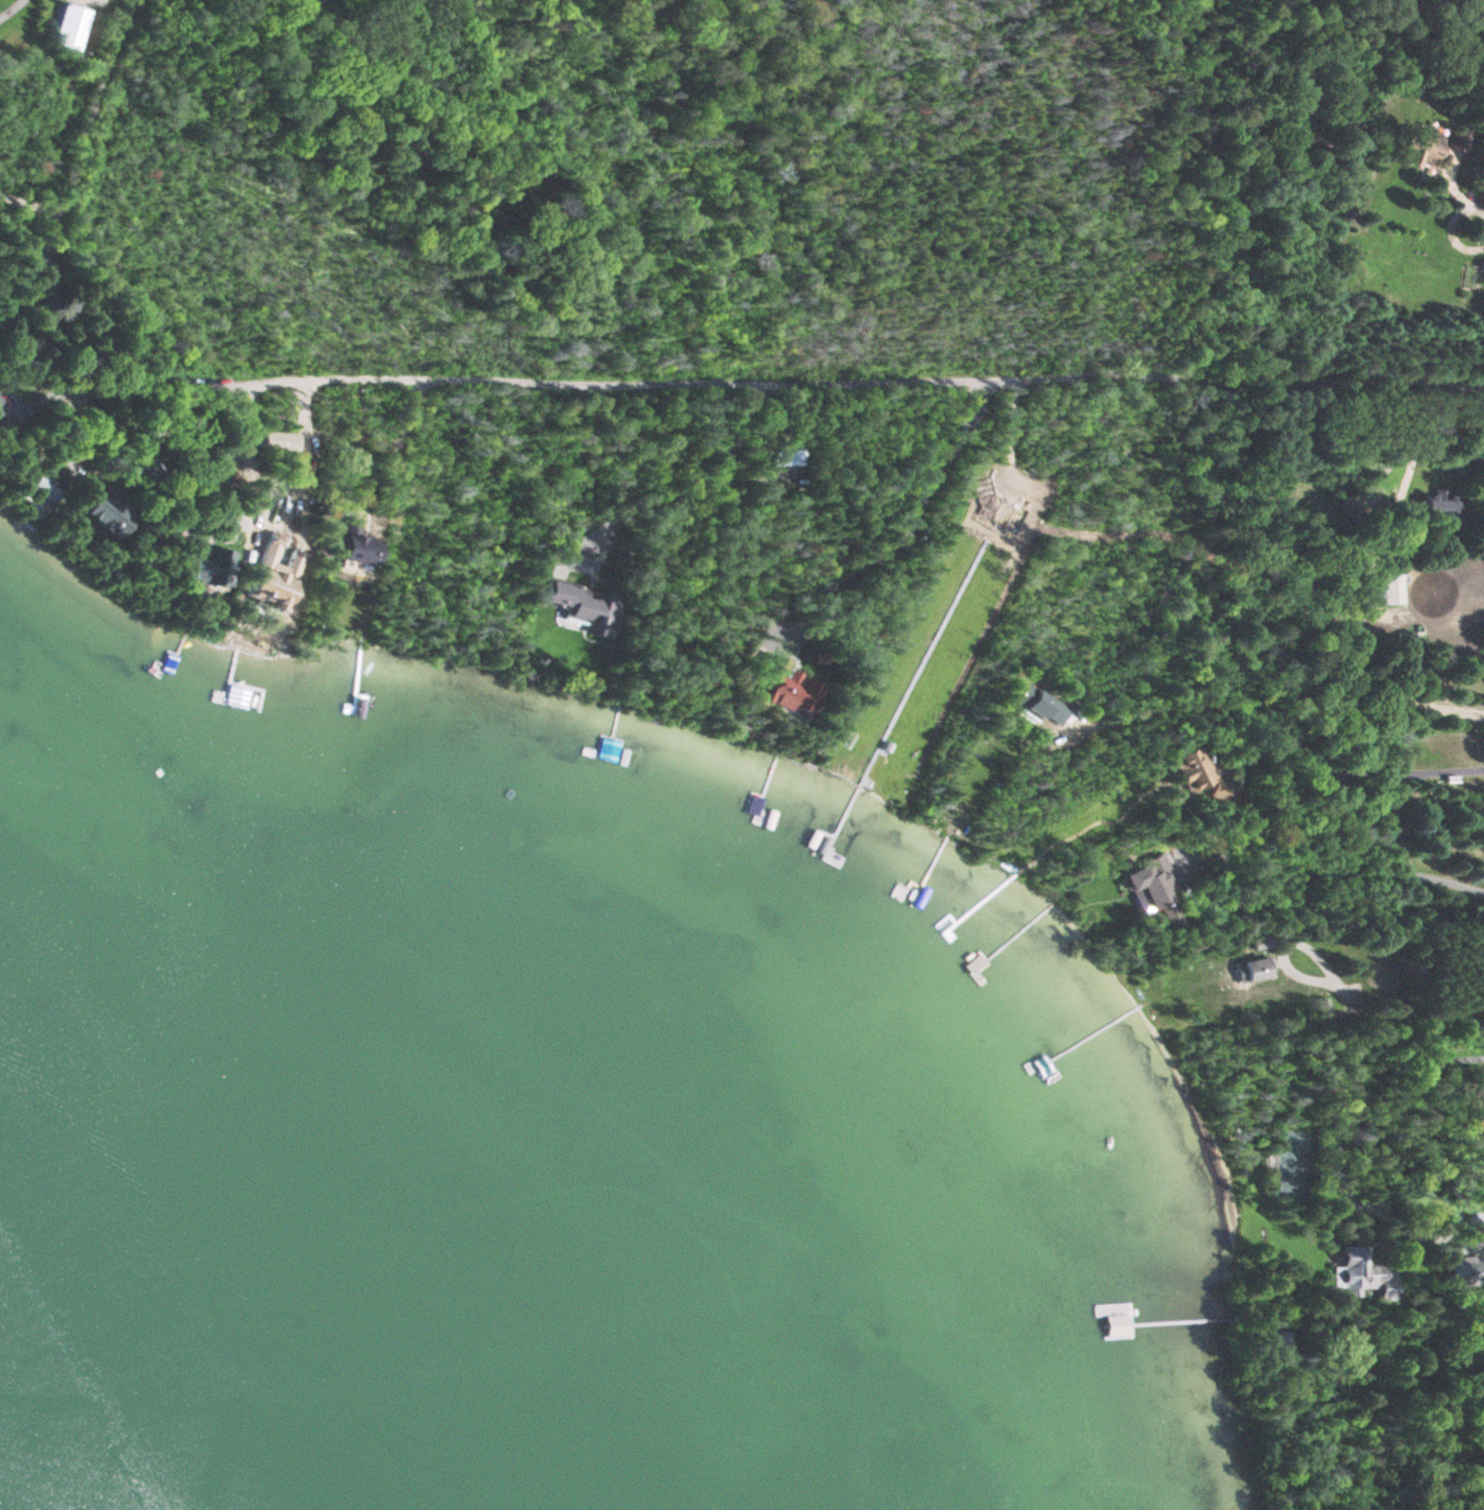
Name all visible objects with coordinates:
building: (325, 1)
building: (70, 26)
building: (1459, 136)
building: (1423, 142)
road: (807, 378)
building: (6, 427)
building: (280, 442)
building: (785, 453)
building: (41, 483)
building: (359, 552)
building: (209, 567)
building: (1390, 587)
building: (574, 601)
building: (795, 691)
building: (1042, 703)
building: (1194, 771)
road: (1365, 771)
building: (1155, 884)
building: (1255, 969)
road: (1393, 1052)
building: (1358, 1273)
building: (1101, 1325)

